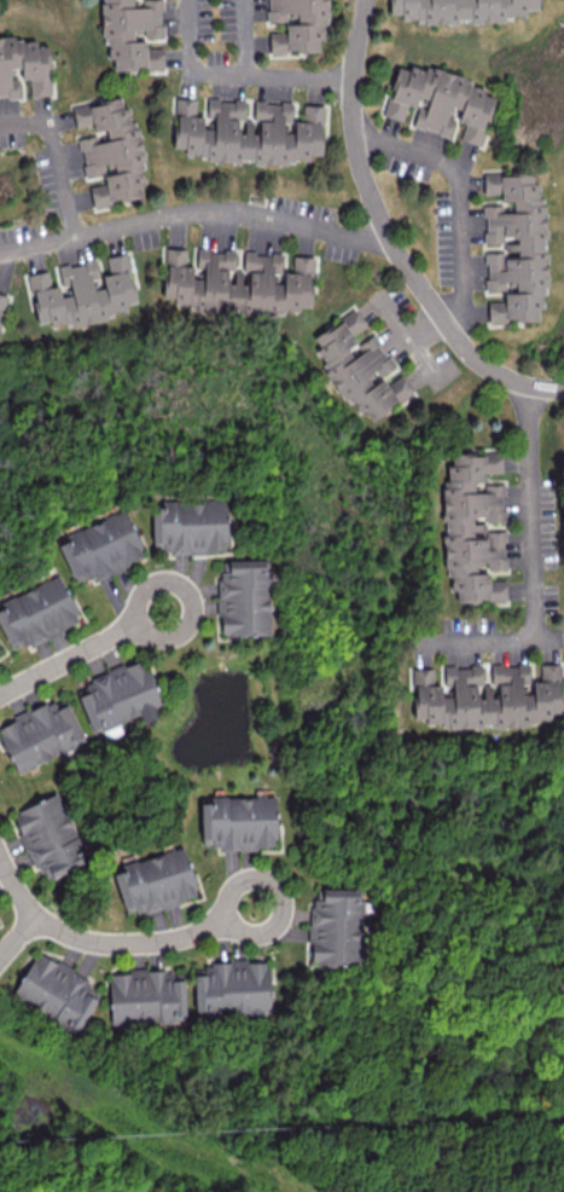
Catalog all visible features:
building: (459, 10)
building: (297, 24)
building: (132, 33)
road: (249, 40)
building: (23, 66)
road: (236, 80)
building: (440, 102)
building: (248, 132)
building: (111, 150)
road: (53, 162)
road: (463, 199)
road: (196, 215)
road: (389, 237)
building: (514, 247)
building: (237, 282)
building: (83, 291)
building: (1, 301)
building: (359, 366)
building: (188, 526)
building: (473, 526)
building: (100, 546)
road: (529, 557)
building: (245, 597)
building: (36, 613)
building: (0, 650)
road: (80, 653)
building: (118, 696)
building: (484, 696)
building: (40, 733)
building: (238, 822)
building: (50, 837)
building: (155, 881)
road: (16, 885)
building: (336, 927)
road: (16, 936)
road: (141, 944)
building: (231, 988)
building: (56, 991)
building: (146, 996)

